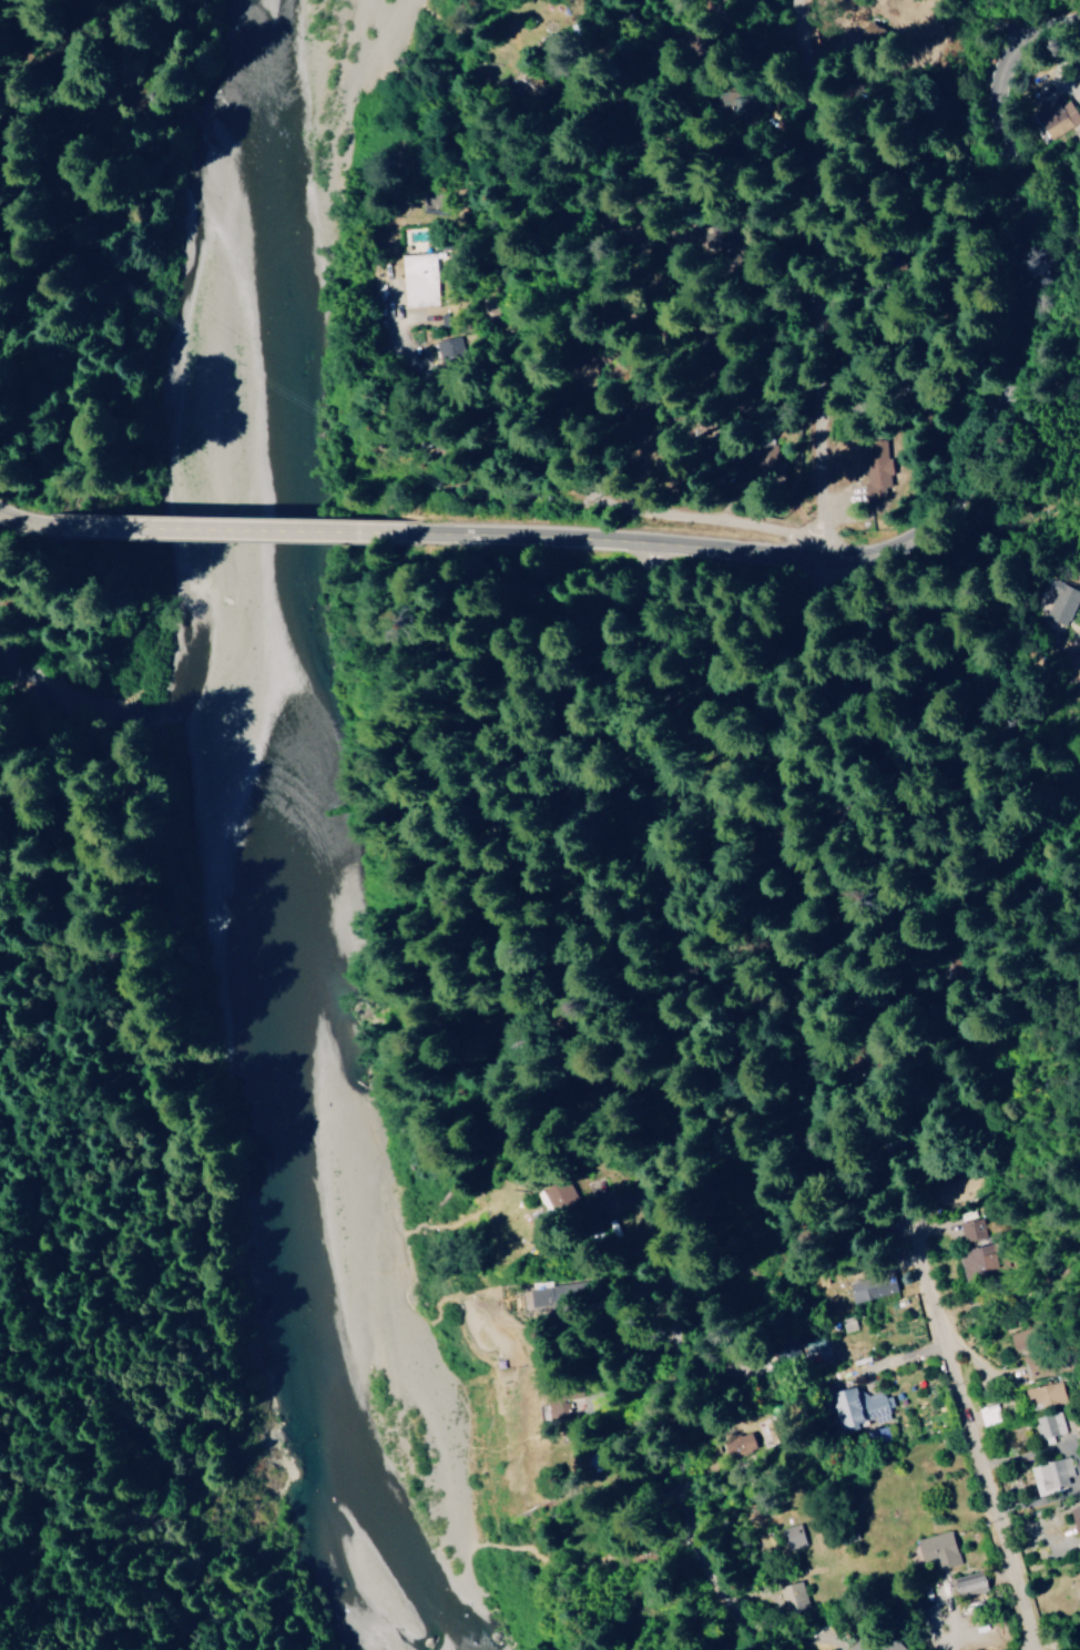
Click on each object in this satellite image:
building: (1059, 116)
road: (598, 221)
road: (802, 274)
building: (420, 282)
river: (279, 335)
road: (477, 377)
road: (938, 459)
building: (770, 464)
building: (874, 468)
road: (31, 524)
road: (259, 530)
building: (1063, 602)
building: (1076, 663)
road: (880, 1103)
road: (690, 1168)
river: (279, 1188)
building: (972, 1240)
building: (873, 1286)
road: (796, 1328)
building: (809, 1342)
road: (823, 1348)
road: (856, 1394)
building: (1046, 1394)
building: (859, 1407)
building: (1049, 1424)
building: (741, 1444)
building: (1052, 1476)
building: (1076, 1516)
building: (795, 1536)
building: (943, 1549)
building: (975, 1583)
building: (793, 1596)

